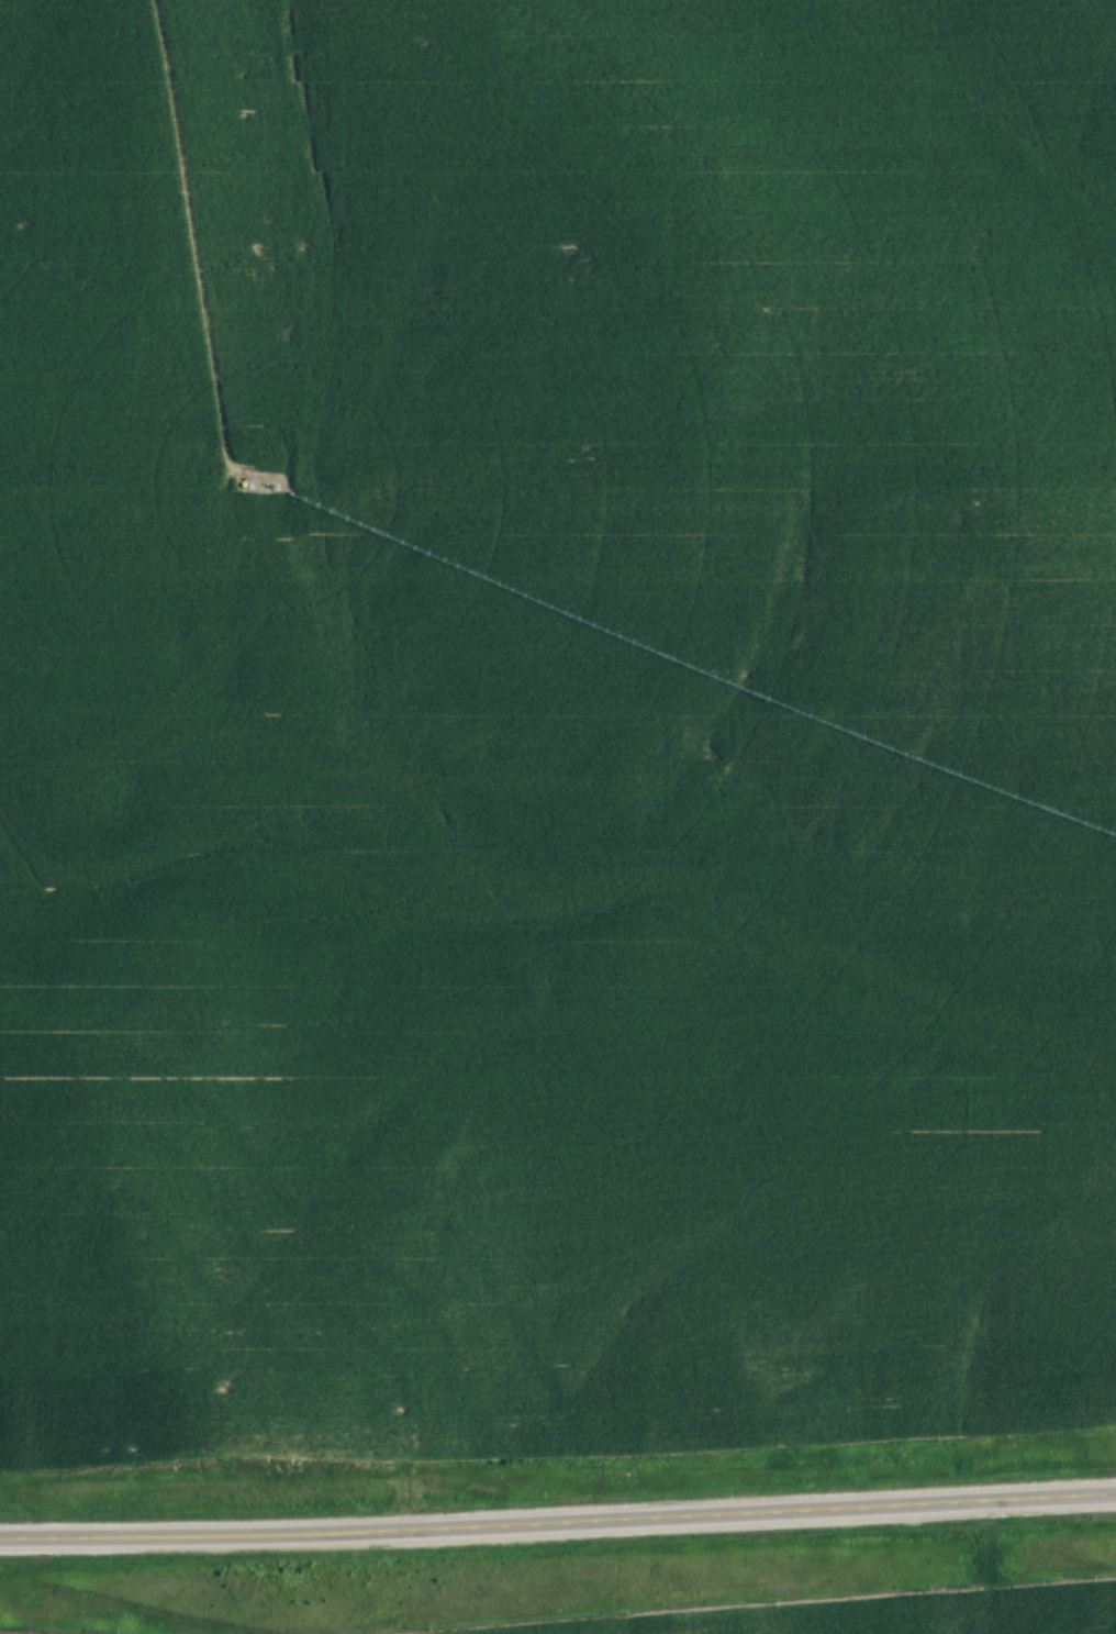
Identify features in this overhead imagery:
road: (194, 231)
road: (558, 1533)

